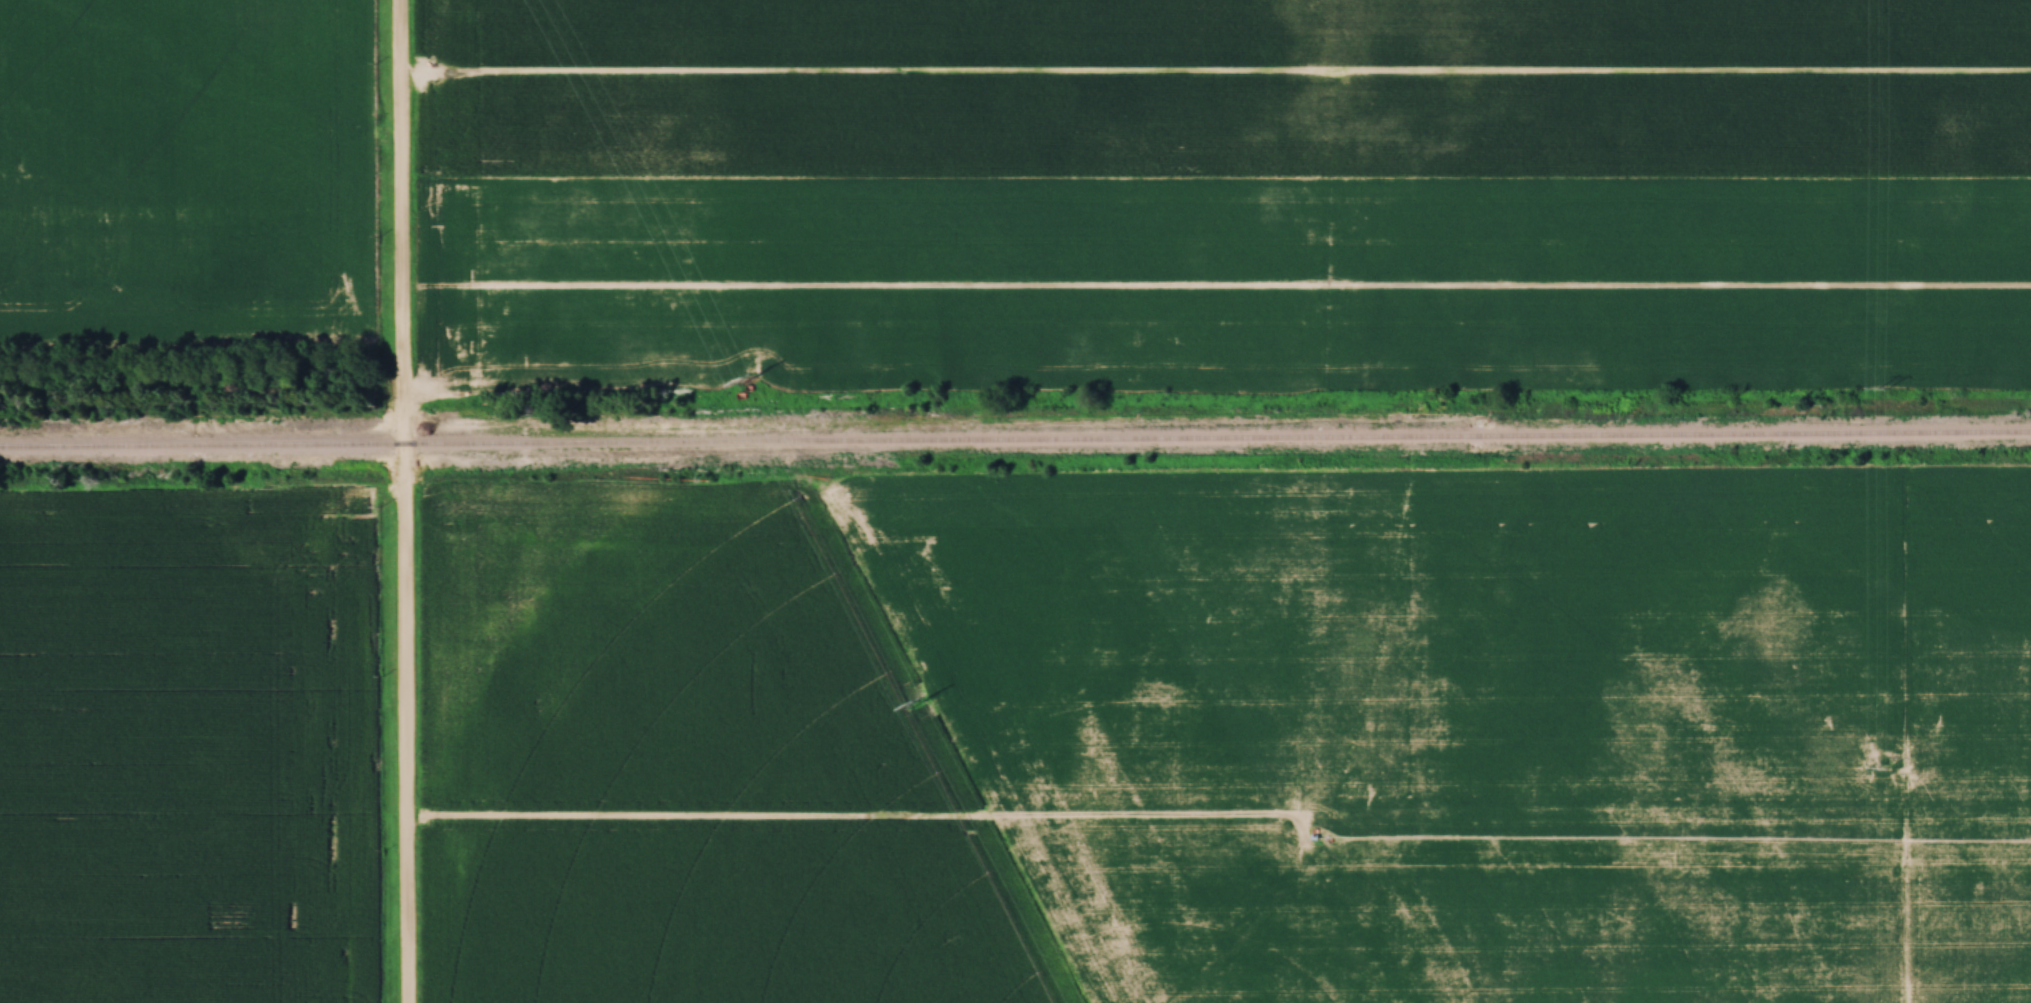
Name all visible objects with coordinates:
power tower: (748, 383)
power tower: (1884, 391)
railway: (1015, 438)
road: (404, 501)
power tower: (915, 705)
power tower: (1879, 771)

